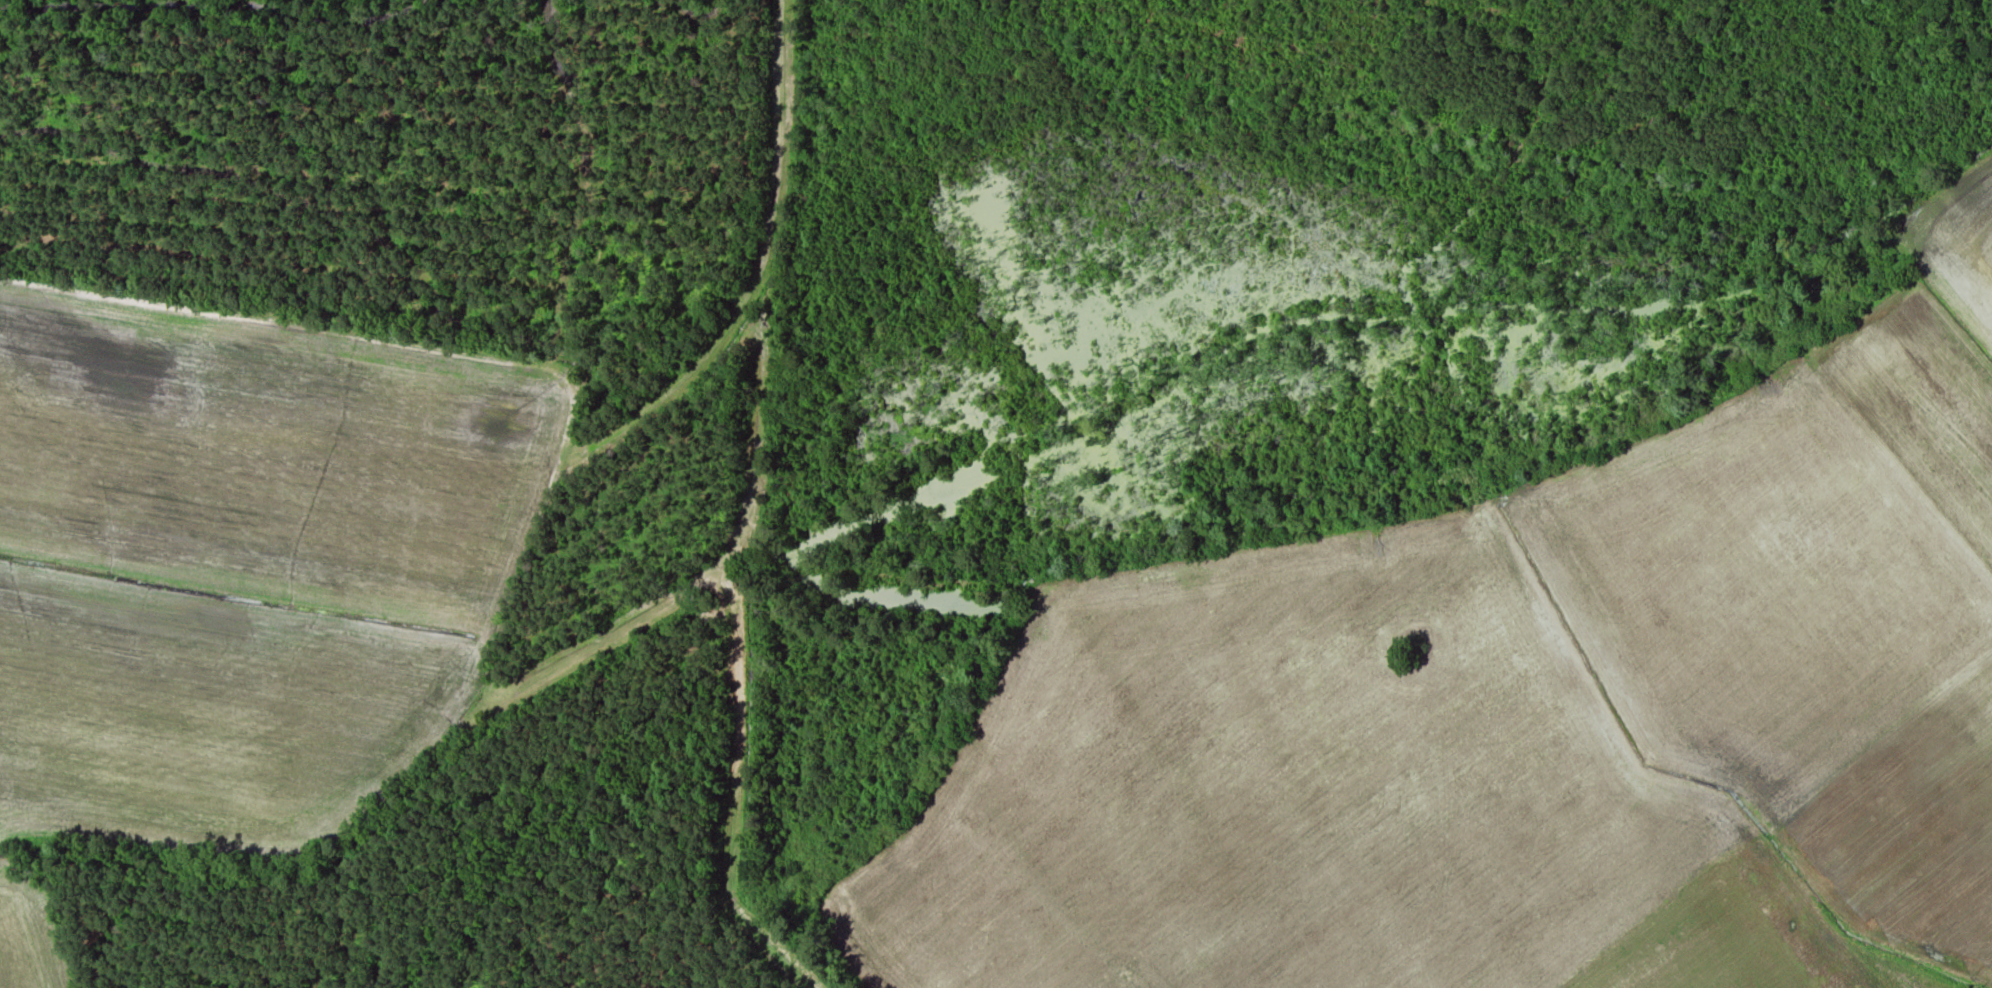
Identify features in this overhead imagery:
road: (752, 272)
road: (568, 388)
road: (751, 417)
park: (1418, 639)
road: (734, 794)

